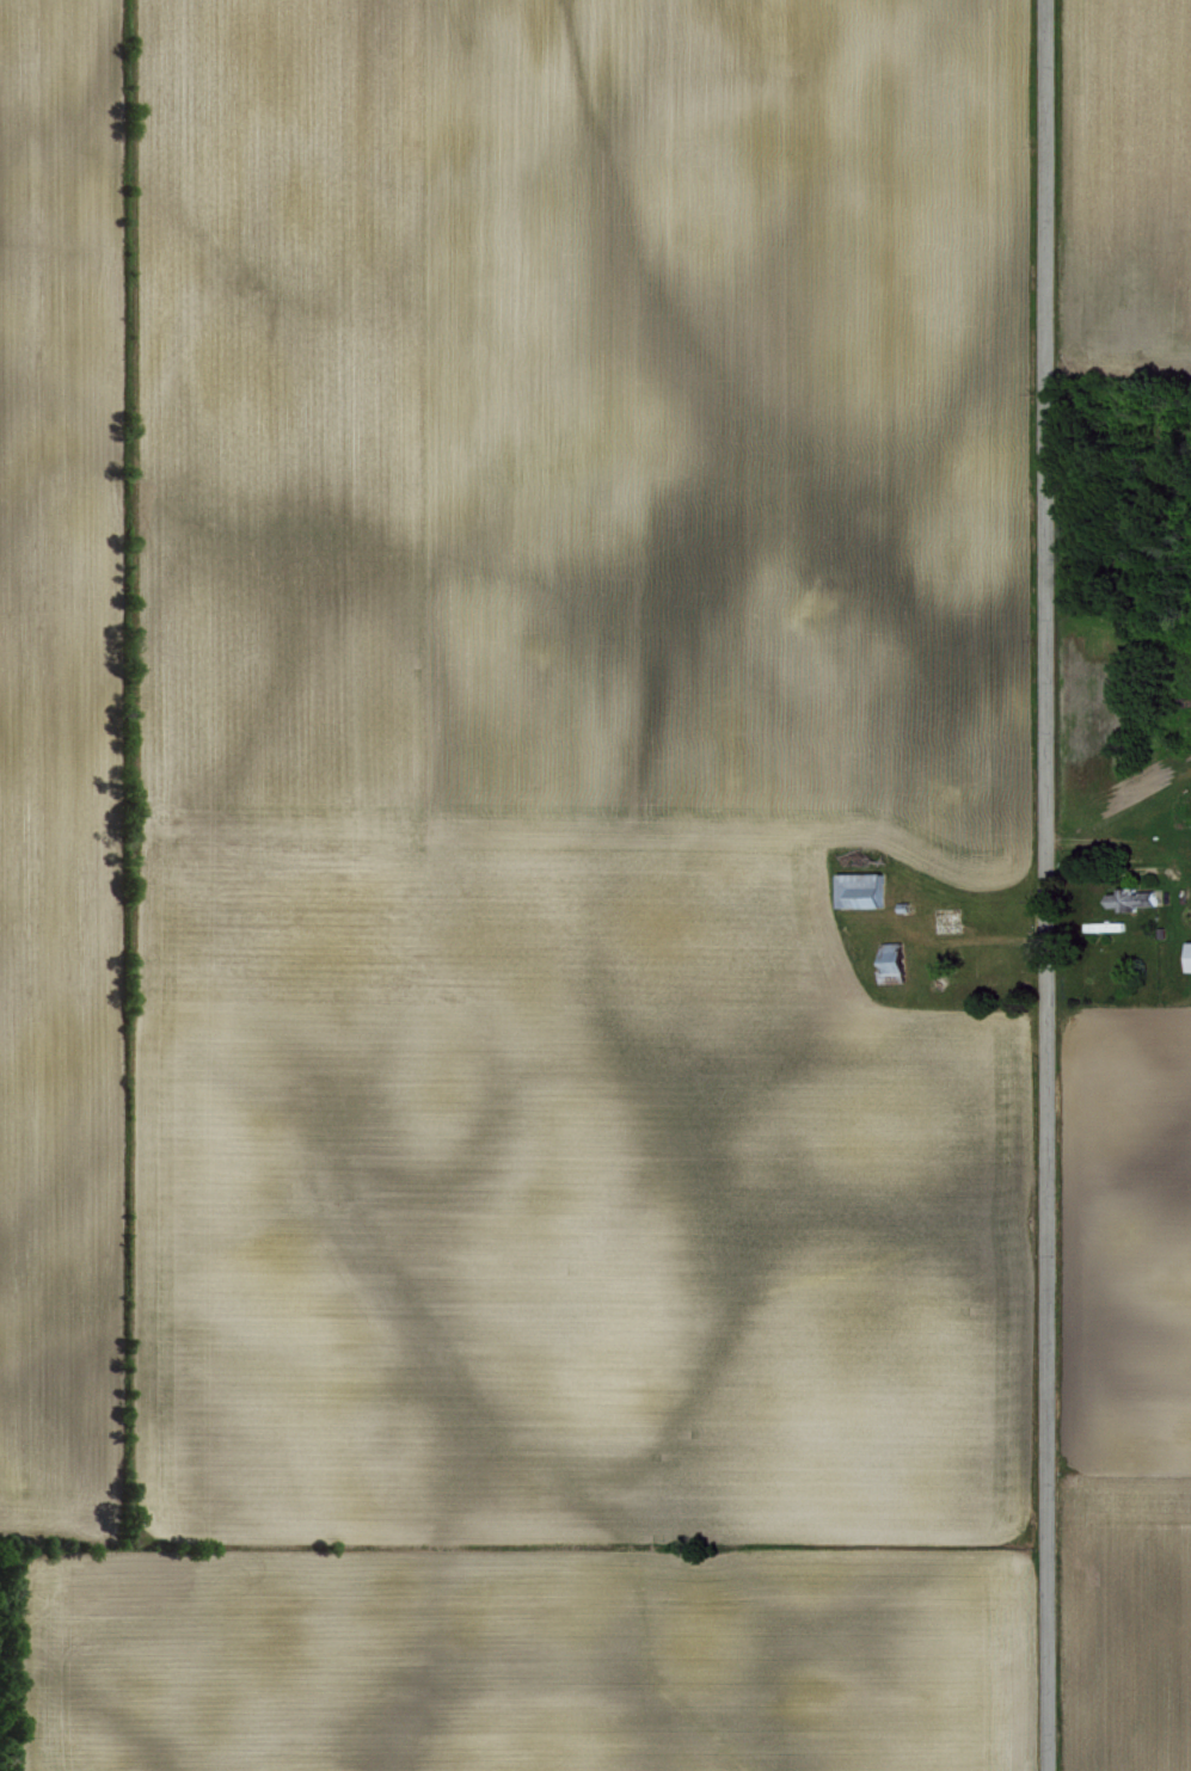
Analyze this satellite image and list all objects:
road: (1043, 885)
building: (858, 888)
building: (1186, 955)

